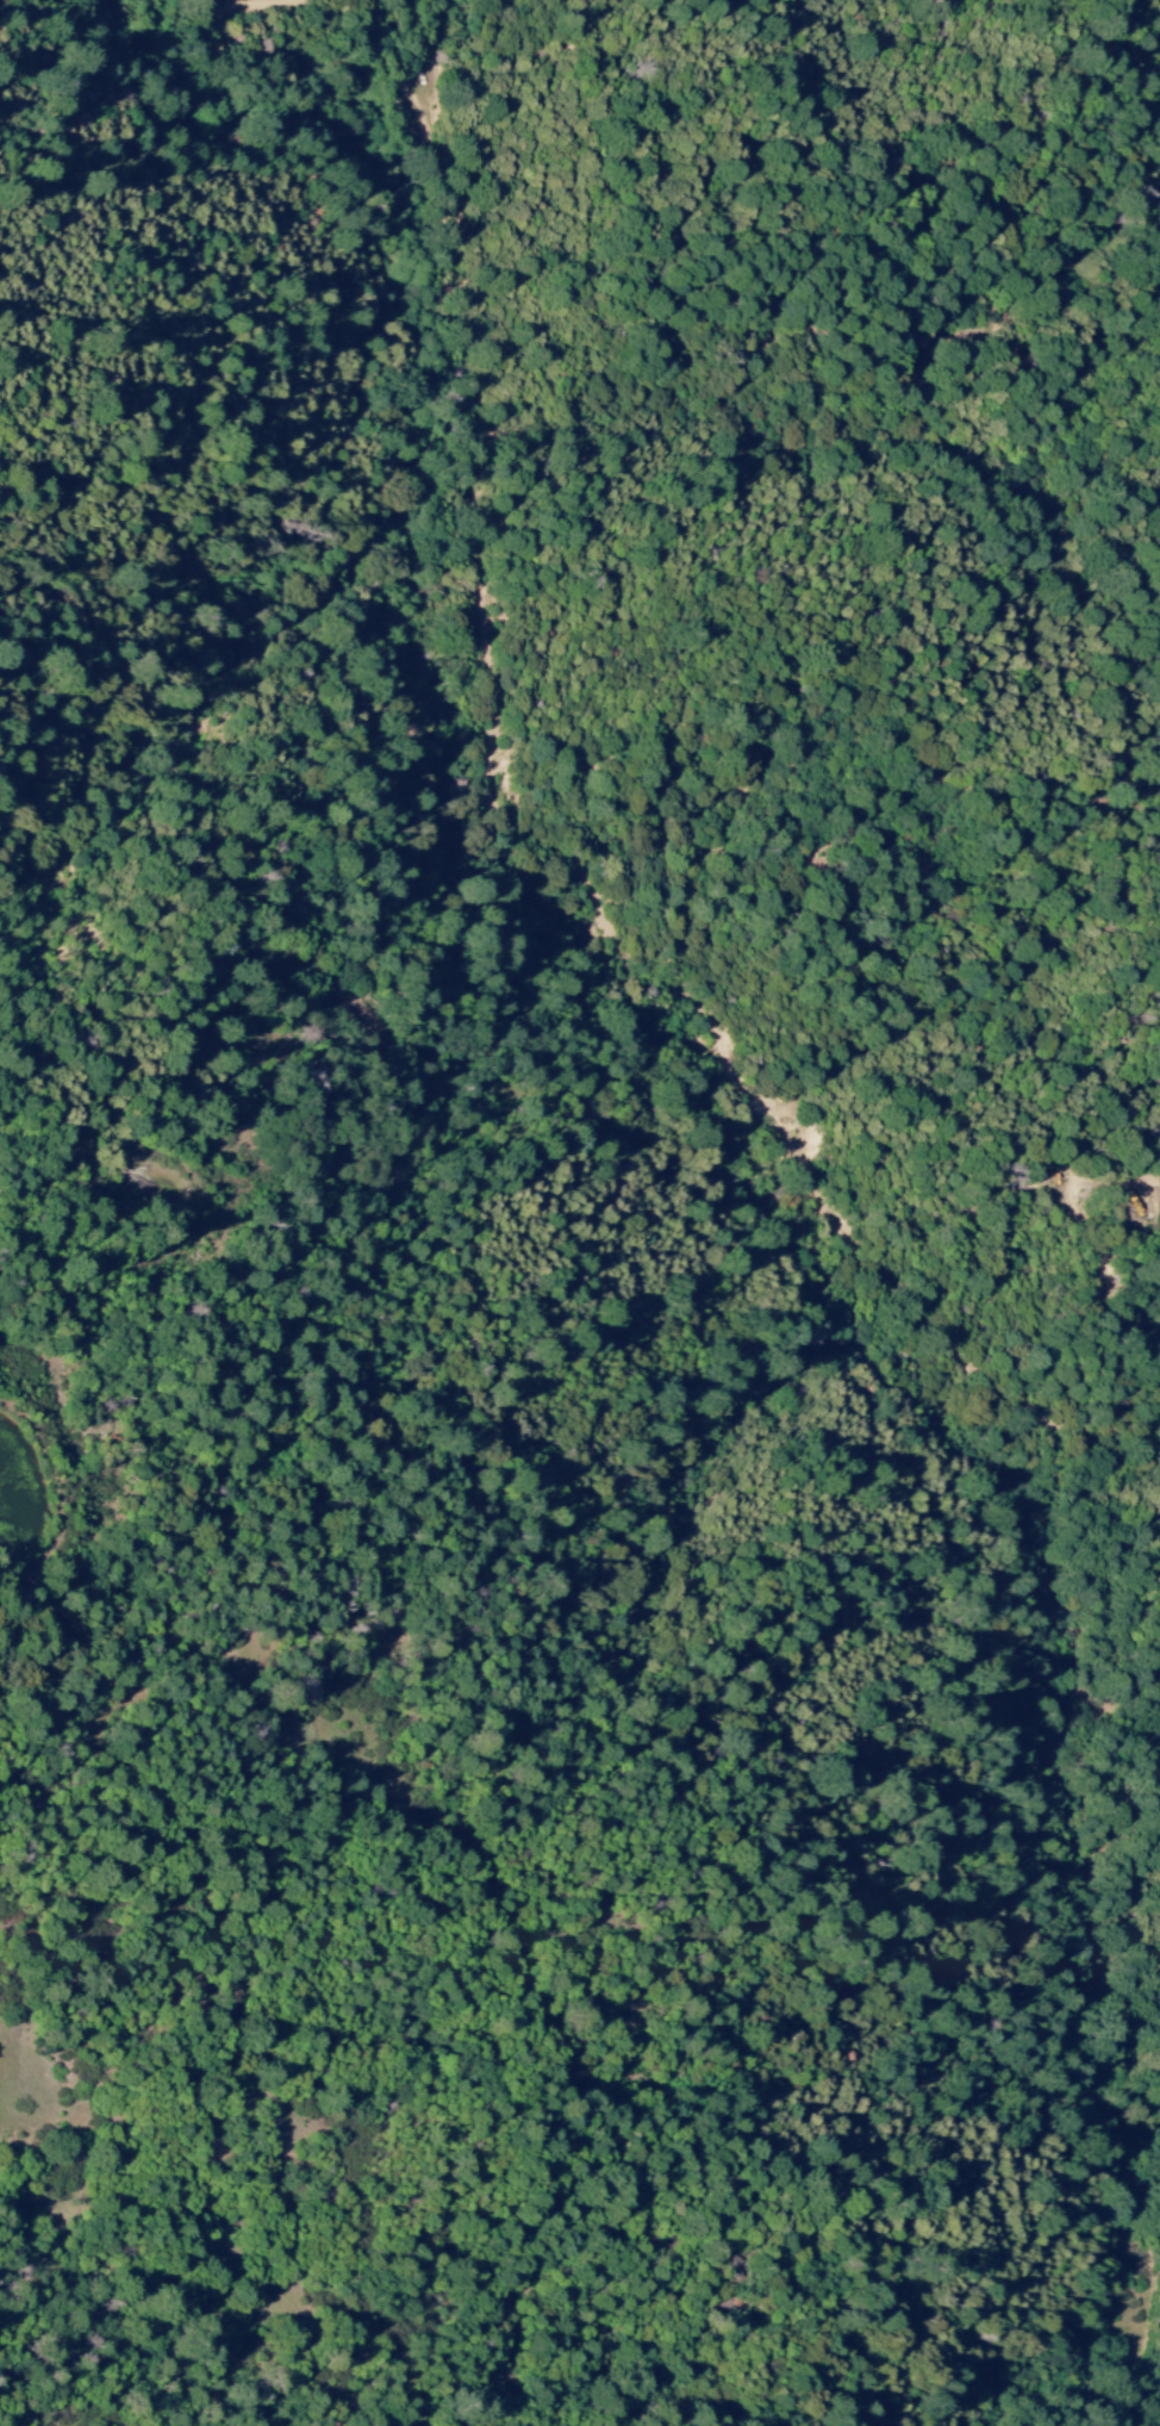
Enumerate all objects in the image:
road: (616, 865)

